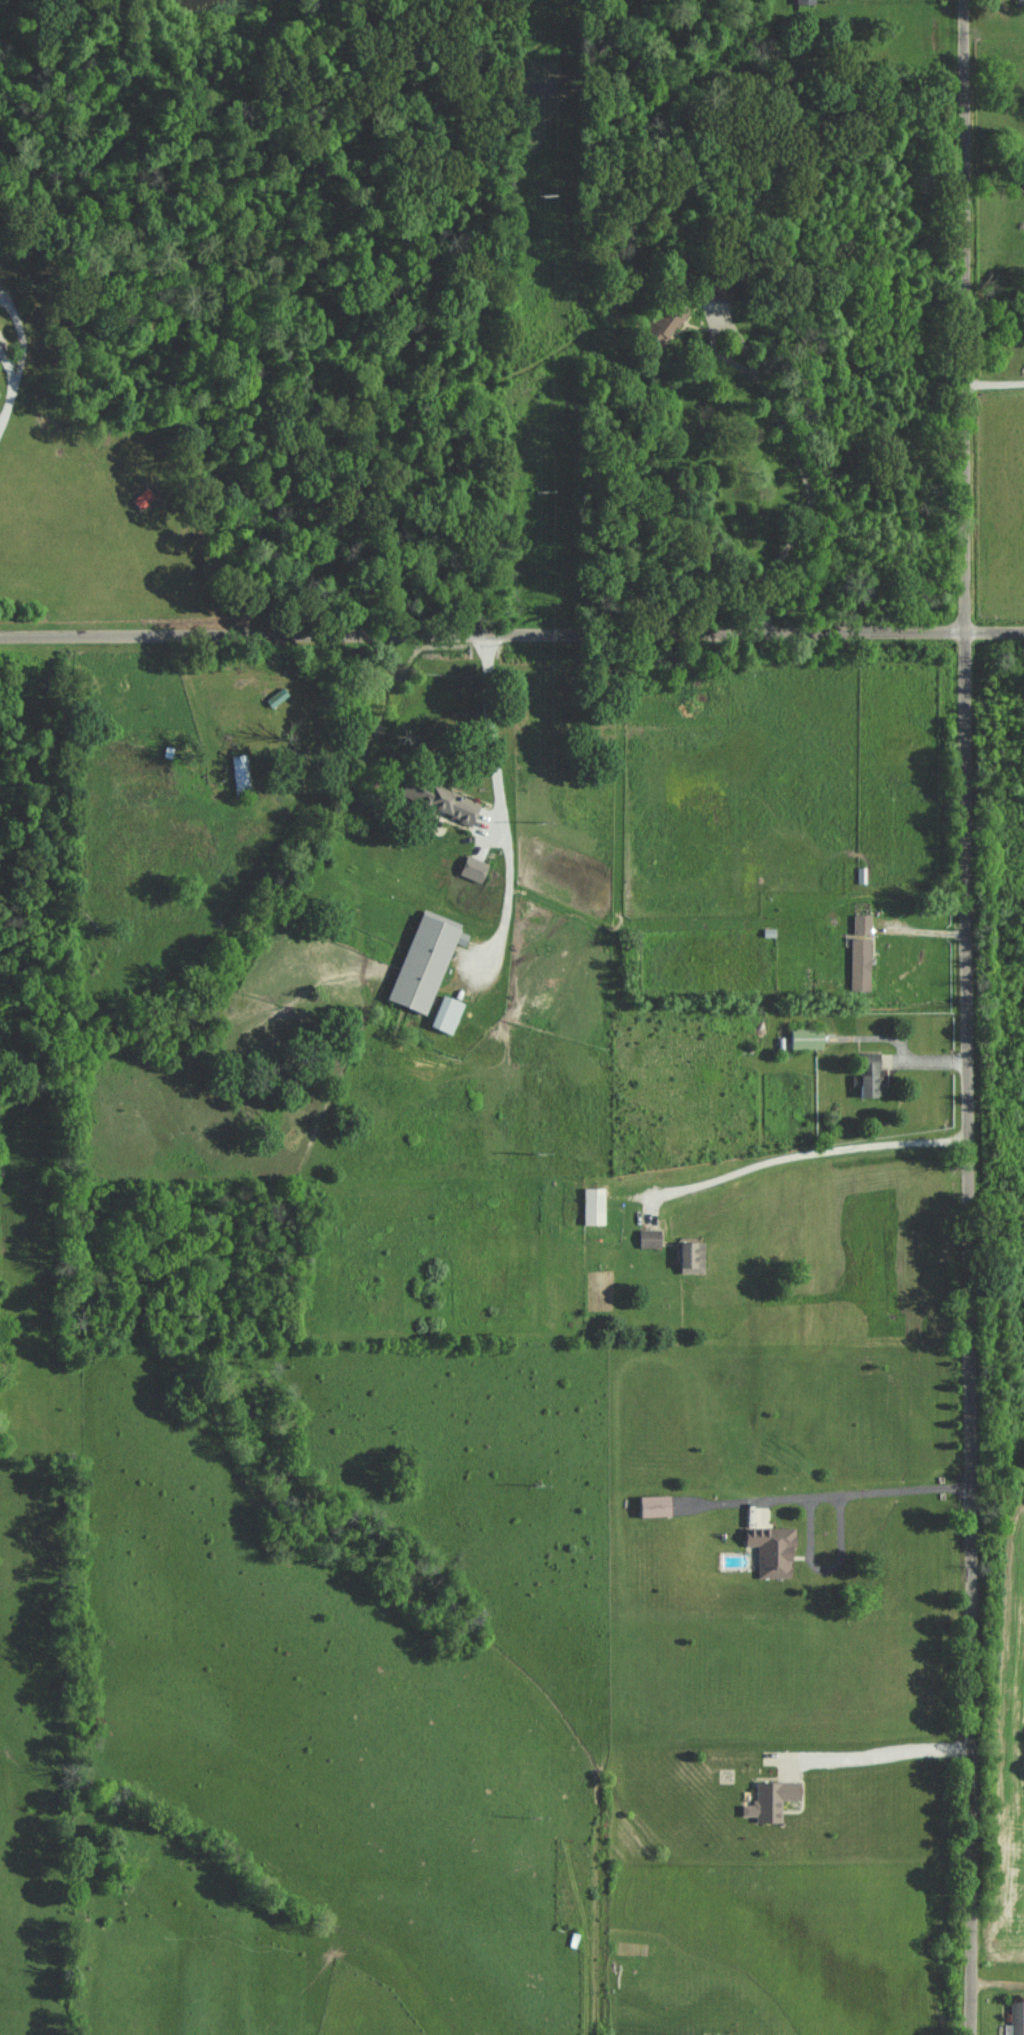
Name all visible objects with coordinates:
building: (806, 0)
building: (671, 320)
road: (995, 377)
road: (11, 380)
road: (511, 629)
building: (241, 773)
building: (447, 800)
road: (504, 809)
building: (476, 867)
building: (863, 923)
building: (427, 962)
building: (862, 963)
building: (449, 1013)
road: (970, 1017)
building: (810, 1037)
building: (871, 1074)
road: (798, 1148)
building: (596, 1205)
building: (651, 1237)
building: (694, 1257)
road: (828, 1491)
building: (658, 1505)
building: (775, 1550)
road: (872, 1751)
building: (773, 1798)
building: (1017, 2018)
building: (719, 2034)

